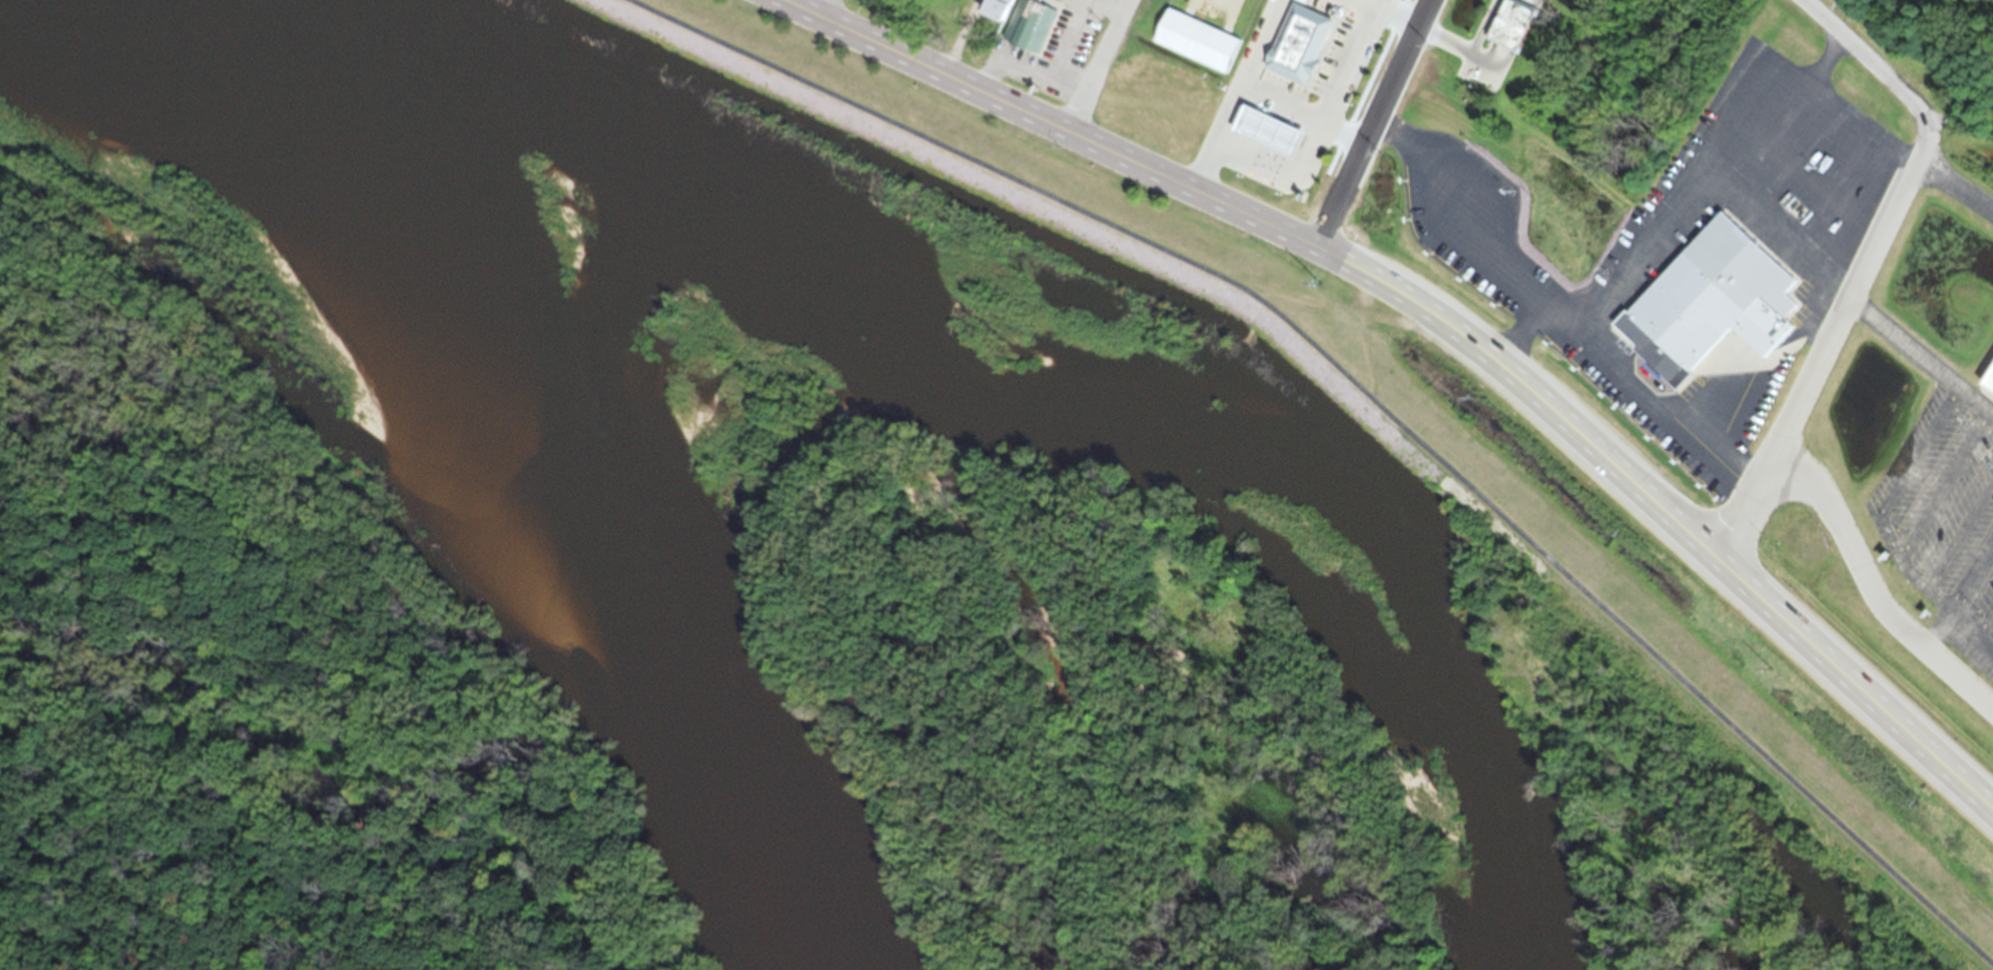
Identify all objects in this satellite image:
road: (1361, 5)
road: (826, 12)
building: (996, 13)
building: (1512, 23)
building: (1034, 31)
building: (1296, 39)
road: (962, 40)
road: (1263, 46)
building: (1195, 48)
road: (1099, 69)
road: (1348, 69)
road: (1887, 80)
road: (1237, 104)
road: (1370, 126)
building: (1272, 130)
gas station: (1272, 130)
road: (1956, 185)
road: (1488, 237)
road: (1624, 271)
road: (1563, 309)
building: (1707, 310)
road: (1437, 323)
road: (1922, 354)
road: (1815, 376)
building: (1987, 393)
road: (1361, 398)
park: (1401, 452)
road: (1904, 462)
road: (1919, 577)
road: (1871, 598)
road: (1951, 610)

